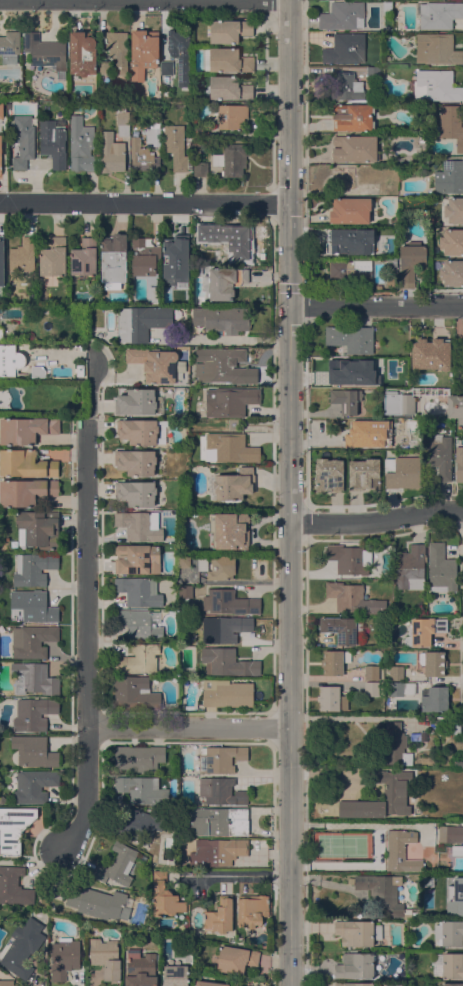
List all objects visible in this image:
building: (439, 14)
building: (342, 16)
building: (230, 30)
building: (10, 46)
building: (345, 48)
building: (117, 49)
building: (437, 49)
building: (143, 52)
building: (46, 53)
building: (82, 53)
building: (179, 53)
building: (229, 60)
building: (104, 67)
building: (166, 67)
building: (373, 72)
building: (435, 85)
building: (348, 86)
building: (229, 88)
building: (1, 110)
building: (233, 116)
building: (353, 117)
building: (122, 119)
building: (450, 124)
building: (201, 132)
building: (153, 134)
building: (23, 141)
building: (53, 142)
building: (81, 145)
building: (176, 147)
building: (355, 148)
building: (111, 153)
building: (0, 154)
building: (142, 156)
building: (231, 159)
building: (200, 168)
building: (344, 176)
building: (449, 177)
building: (372, 188)
building: (401, 200)
road: (144, 201)
building: (350, 210)
building: (454, 210)
building: (232, 239)
building: (341, 239)
building: (452, 242)
building: (1, 249)
building: (381, 249)
building: (174, 250)
building: (23, 255)
building: (144, 256)
building: (54, 257)
building: (84, 257)
building: (114, 258)
building: (393, 261)
building: (410, 263)
building: (350, 271)
building: (452, 273)
building: (185, 279)
building: (3, 281)
building: (225, 282)
building: (154, 293)
road: (375, 305)
building: (222, 318)
building: (141, 322)
building: (1, 332)
building: (350, 338)
building: (31, 339)
road: (225, 339)
building: (431, 353)
building: (10, 359)
building: (154, 363)
building: (223, 366)
building: (79, 370)
building: (339, 370)
building: (39, 371)
building: (392, 380)
building: (346, 399)
building: (230, 401)
building: (138, 402)
building: (398, 402)
building: (455, 408)
building: (26, 429)
building: (142, 431)
building: (368, 434)
building: (229, 448)
building: (439, 454)
building: (136, 462)
building: (459, 463)
building: (26, 464)
building: (401, 473)
building: (364, 474)
building: (329, 475)
building: (231, 484)
building: (26, 491)
building: (136, 493)
road: (288, 493)
road: (376, 521)
building: (139, 525)
building: (40, 528)
building: (229, 530)
building: (137, 559)
building: (349, 559)
building: (183, 560)
building: (218, 567)
building: (411, 567)
building: (34, 568)
building: (444, 569)
building: (139, 591)
building: (184, 595)
building: (353, 599)
building: (229, 602)
building: (34, 606)
road: (86, 606)
building: (140, 623)
building: (226, 628)
building: (340, 629)
building: (424, 630)
building: (33, 640)
building: (138, 658)
building: (334, 661)
building: (227, 662)
building: (433, 662)
building: (371, 672)
building: (396, 672)
building: (33, 678)
building: (371, 688)
building: (401, 688)
building: (135, 693)
building: (227, 693)
building: (332, 698)
building: (434, 698)
building: (34, 713)
building: (453, 724)
road: (188, 726)
building: (396, 744)
building: (34, 751)
building: (139, 757)
building: (220, 758)
building: (418, 761)
building: (458, 764)
building: (12, 772)
building: (444, 777)
building: (34, 786)
building: (142, 789)
building: (219, 790)
building: (394, 790)
building: (2, 799)
building: (219, 820)
building: (138, 825)
building: (14, 827)
building: (450, 833)
building: (456, 849)
building: (401, 850)
building: (219, 851)
building: (120, 864)
road: (235, 875)
building: (428, 876)
building: (14, 886)
building: (165, 895)
building: (384, 895)
building: (450, 897)
building: (100, 903)
building: (252, 909)
building: (220, 916)
building: (358, 932)
building: (450, 933)
building: (22, 947)
building: (107, 956)
building: (65, 957)
building: (236, 959)
building: (356, 965)
building: (448, 965)
building: (141, 969)
building: (176, 975)
building: (7, 982)
building: (209, 983)
building: (352, 984)
building: (452, 984)
building: (237, 985)

